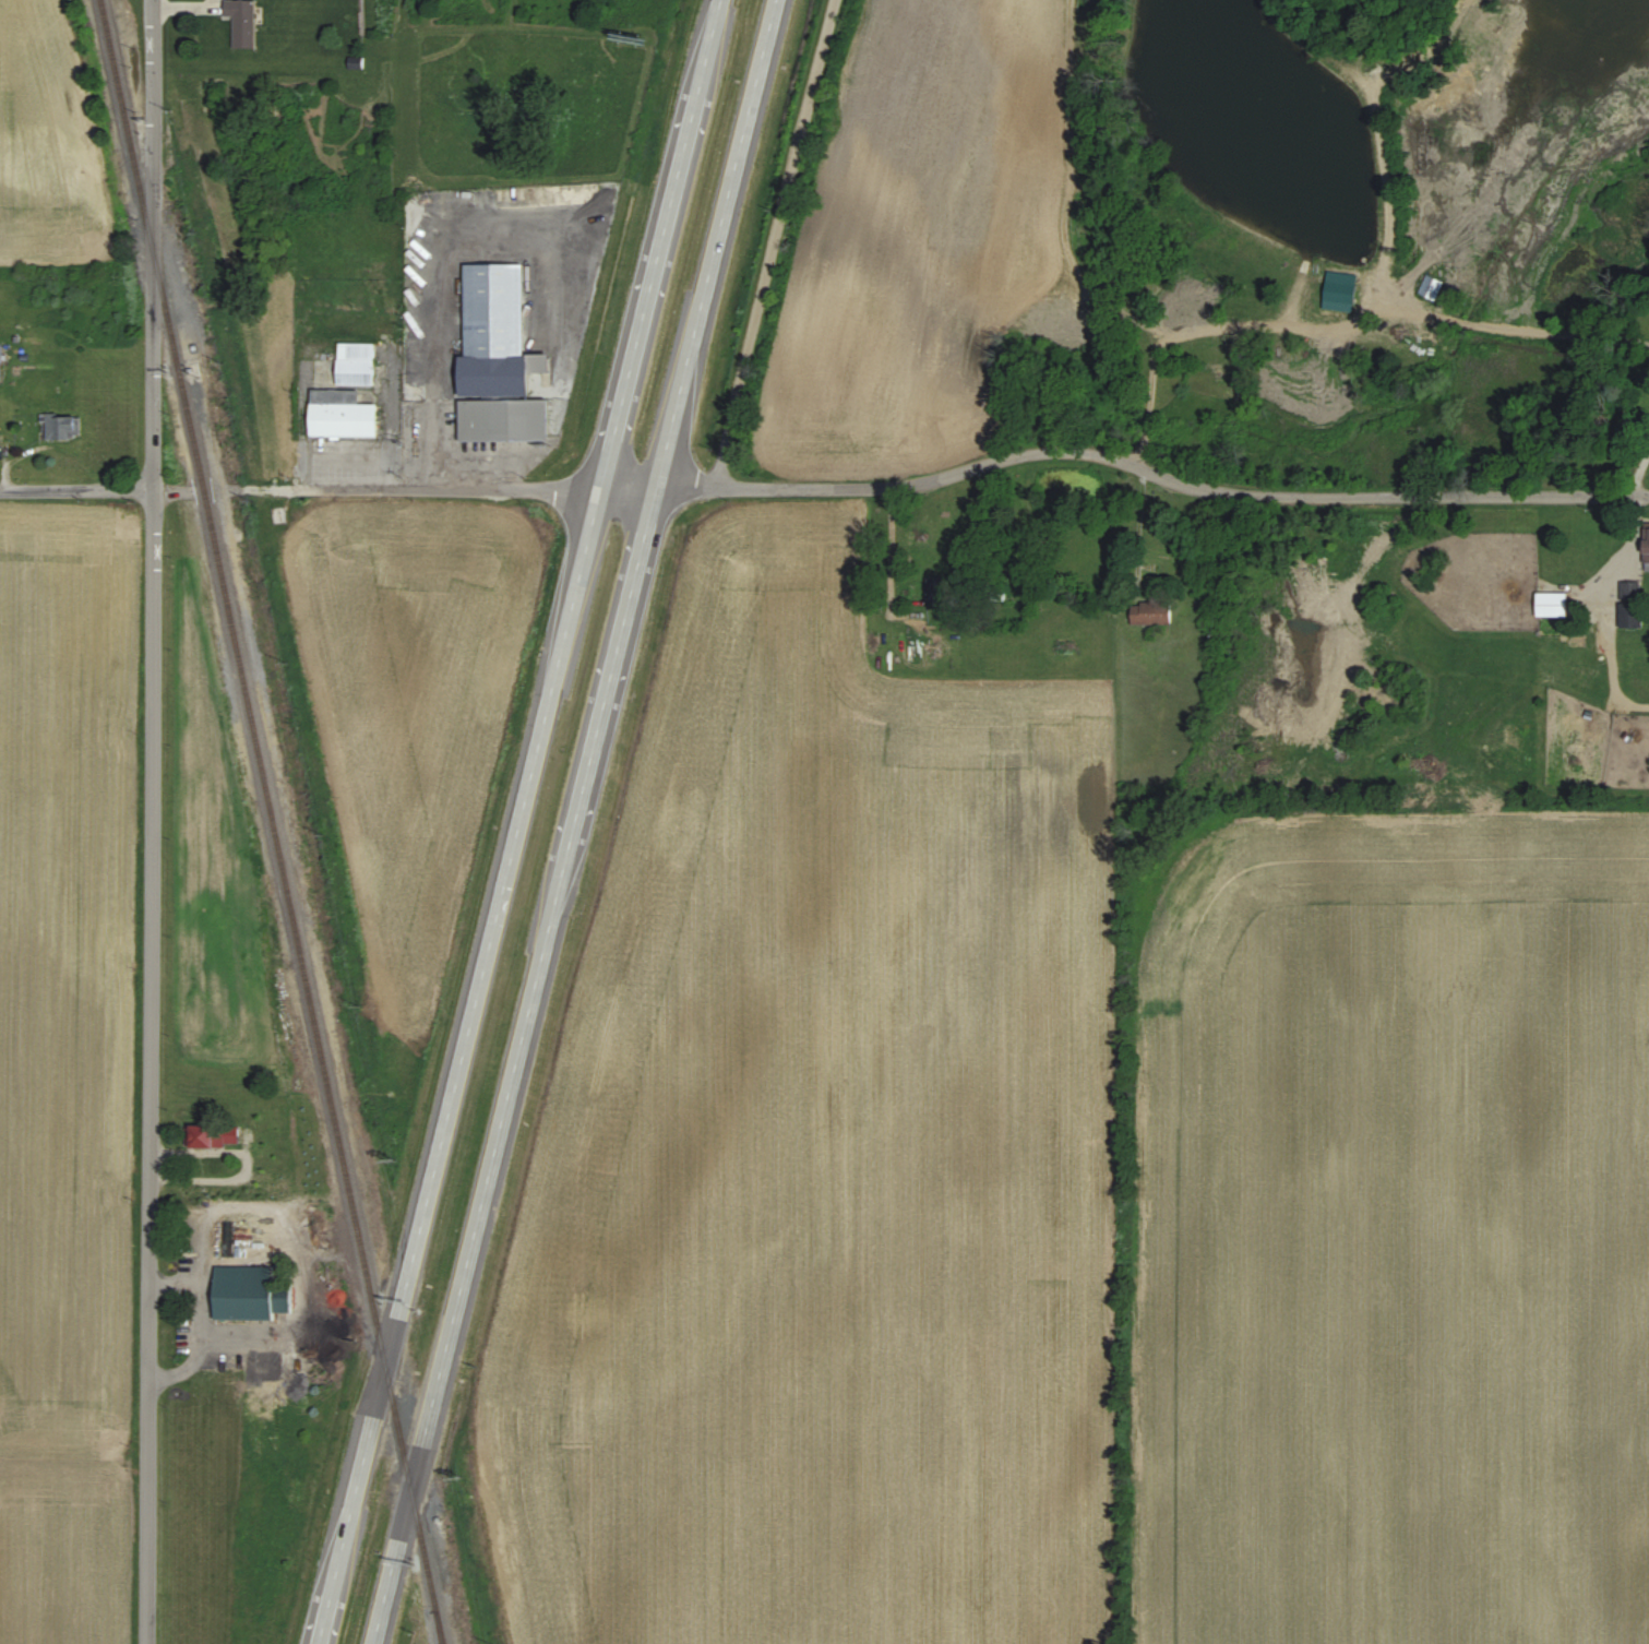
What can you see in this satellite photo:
building: (244, 23)
road: (775, 242)
road: (717, 243)
road: (658, 245)
building: (1432, 288)
building: (1342, 293)
building: (1, 356)
building: (499, 361)
building: (357, 366)
building: (343, 416)
building: (63, 428)
road: (1148, 473)
road: (626, 488)
road: (417, 490)
road: (169, 491)
road: (75, 492)
building: (1647, 553)
building: (939, 592)
building: (1553, 606)
building: (1632, 608)
building: (1149, 615)
road: (151, 822)
railway: (270, 822)
road: (463, 1067)
road: (519, 1067)
building: (215, 1135)
building: (250, 1295)
road: (200, 1327)

